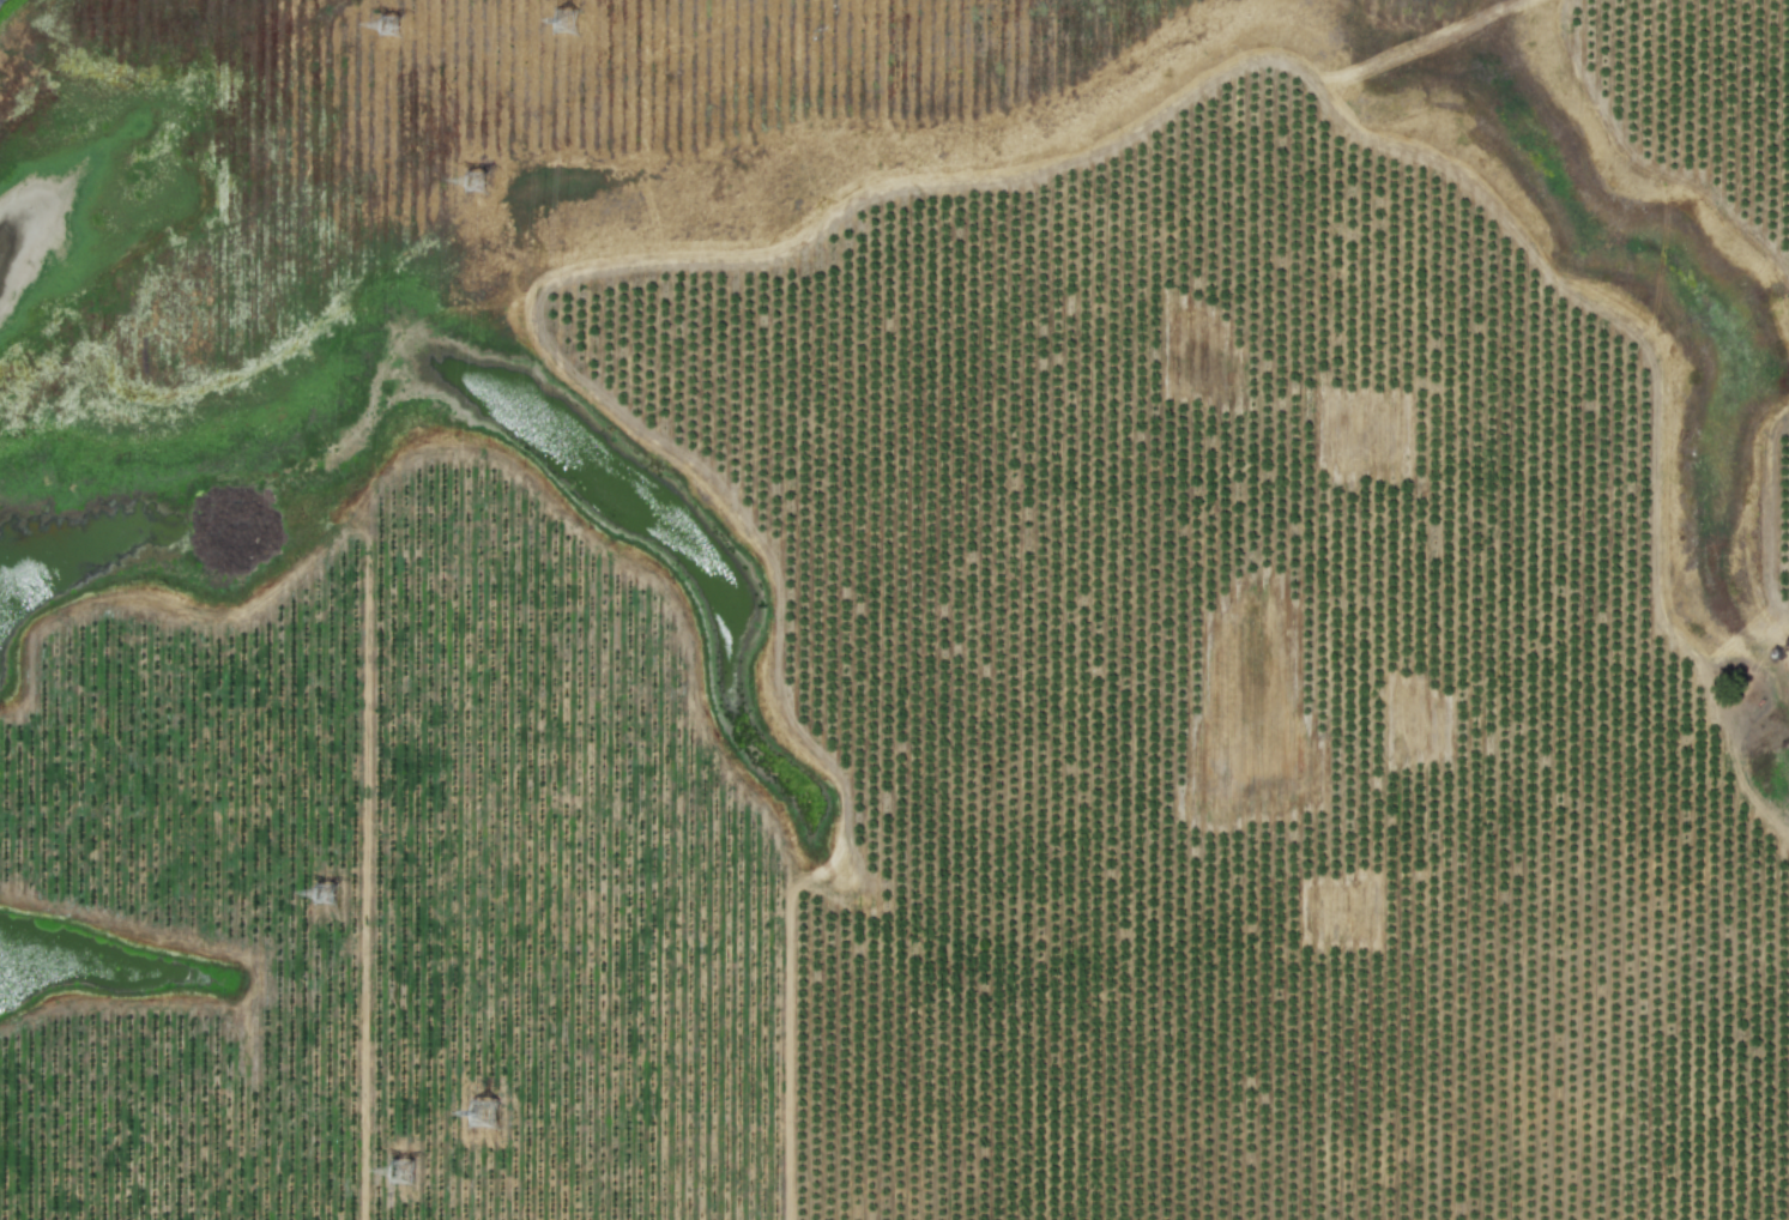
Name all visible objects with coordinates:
power tower: (573, 22)
power tower: (394, 32)
power tower: (465, 186)
power tower: (331, 890)
power tower: (491, 1110)
power tower: (392, 1174)

